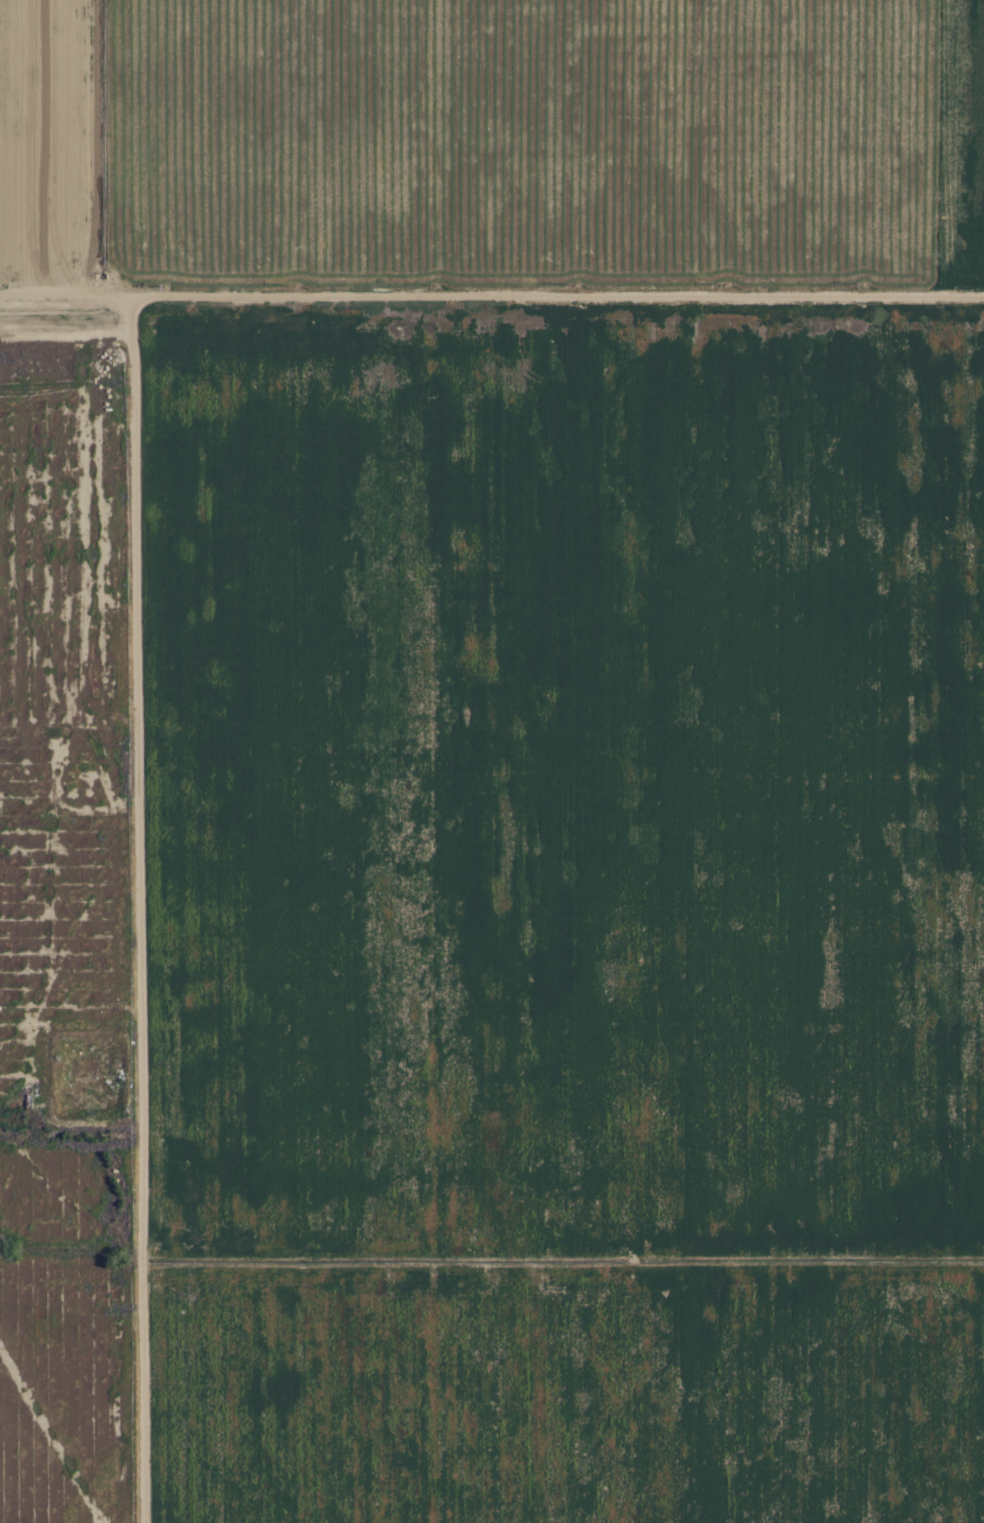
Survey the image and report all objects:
road: (491, 297)
road: (134, 727)
crop: (541, 742)
road: (71, 1153)
road: (143, 1338)

